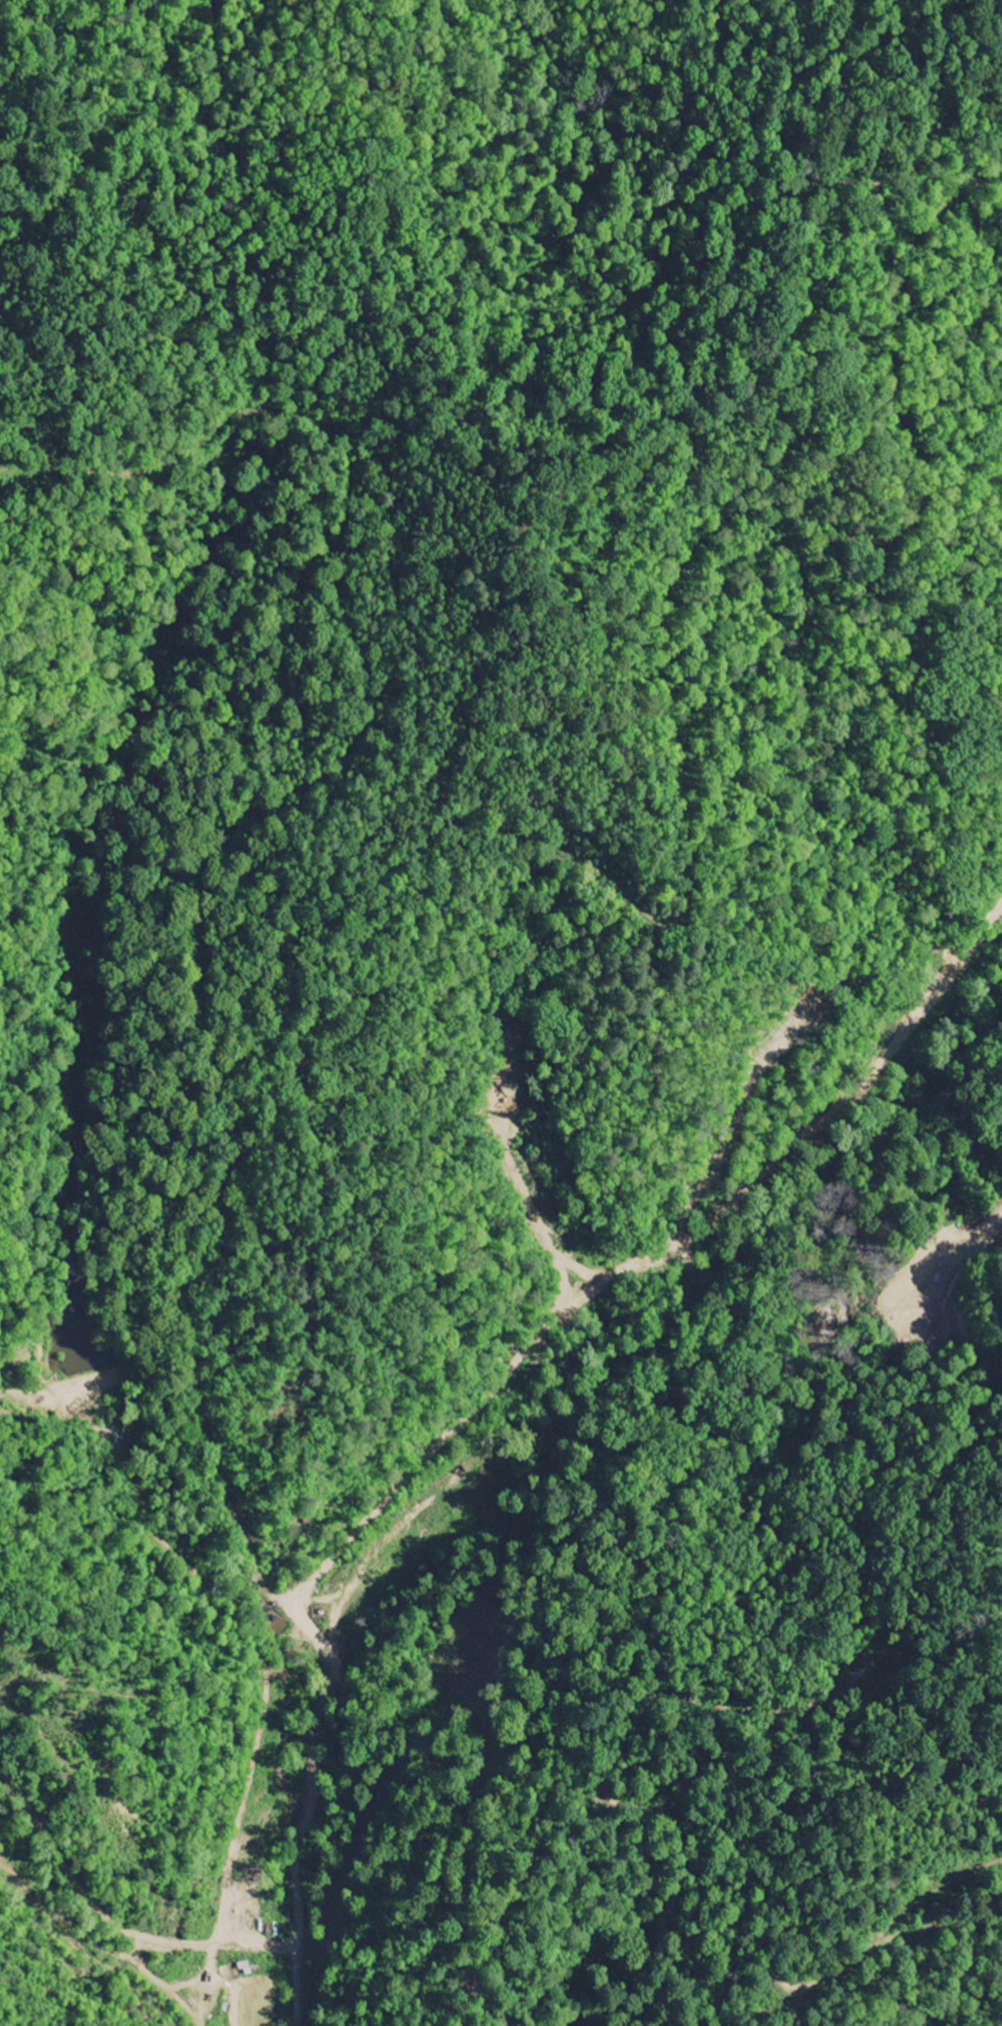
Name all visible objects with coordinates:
road: (297, 1600)

